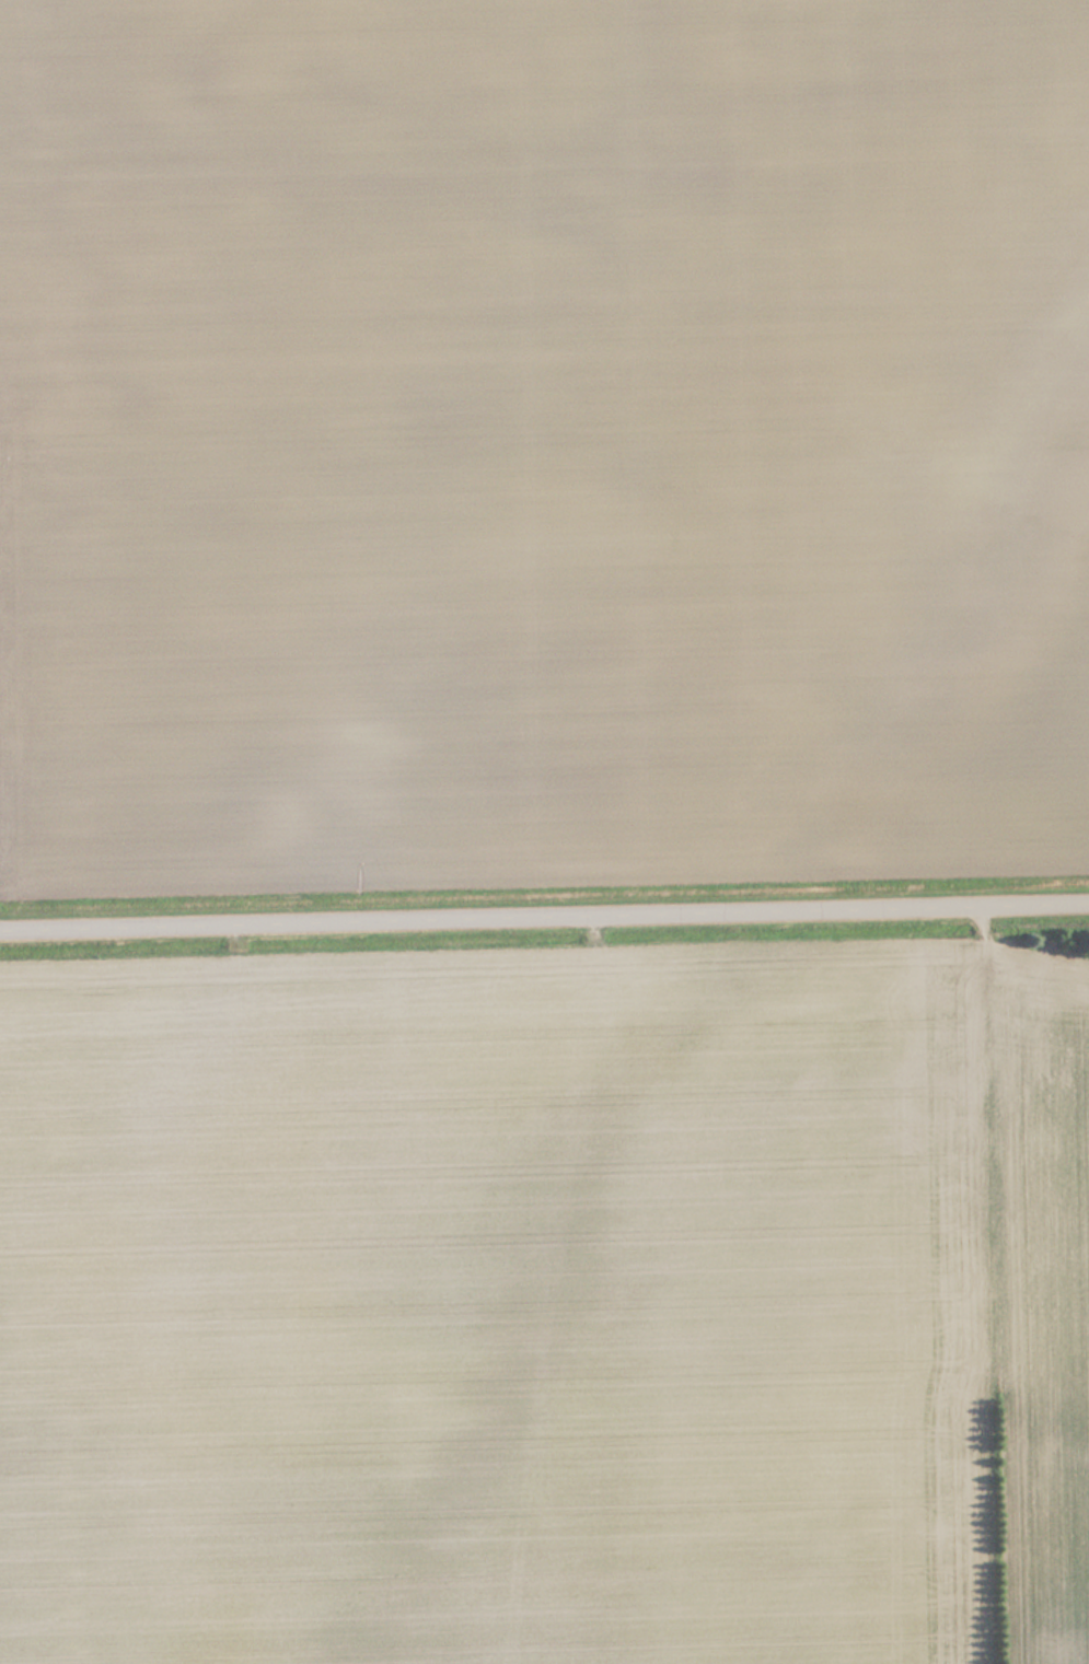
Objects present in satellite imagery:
road: (544, 909)

